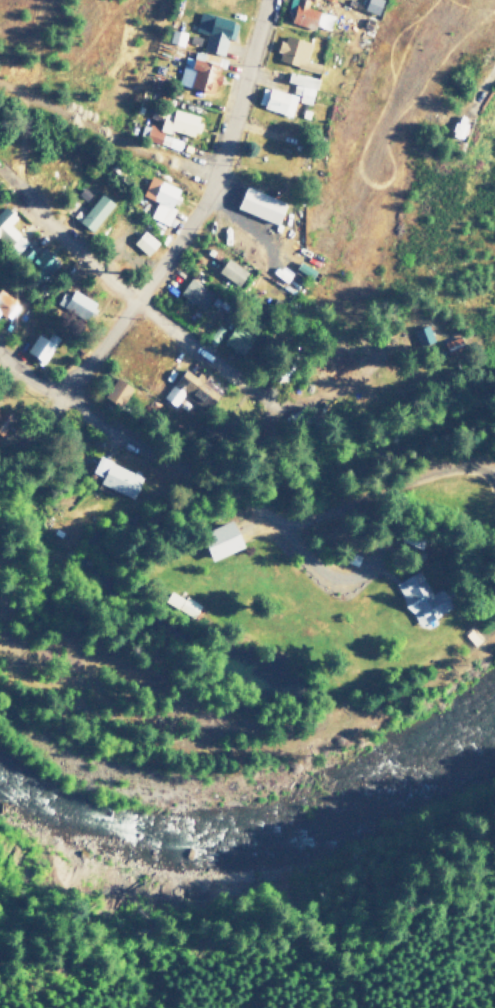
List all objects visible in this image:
building: (372, 6)
building: (303, 15)
building: (214, 31)
building: (176, 37)
building: (295, 53)
building: (200, 72)
building: (302, 86)
building: (276, 101)
road: (82, 128)
building: (173, 128)
building: (160, 199)
building: (260, 205)
building: (94, 212)
building: (9, 232)
road: (181, 241)
building: (143, 242)
building: (231, 272)
building: (195, 294)
road: (131, 300)
building: (5, 304)
building: (76, 304)
building: (214, 334)
building: (422, 335)
building: (237, 340)
building: (41, 346)
building: (200, 386)
road: (327, 389)
building: (117, 392)
building: (172, 395)
building: (4, 422)
road: (187, 472)
building: (116, 477)
road: (392, 489)
building: (222, 540)
building: (421, 599)
river: (428, 766)
river: (173, 852)

